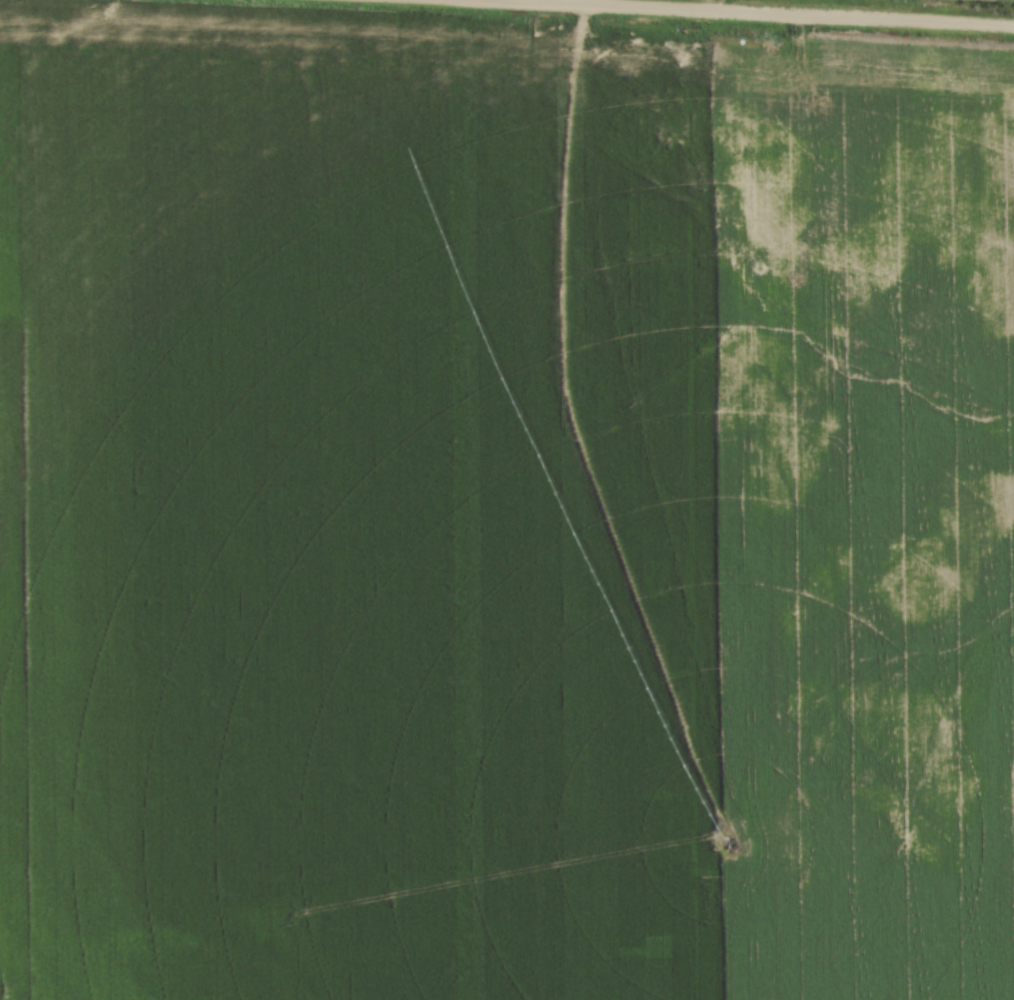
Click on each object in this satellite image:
road: (594, 2)
road: (714, 5)
road: (766, 12)

